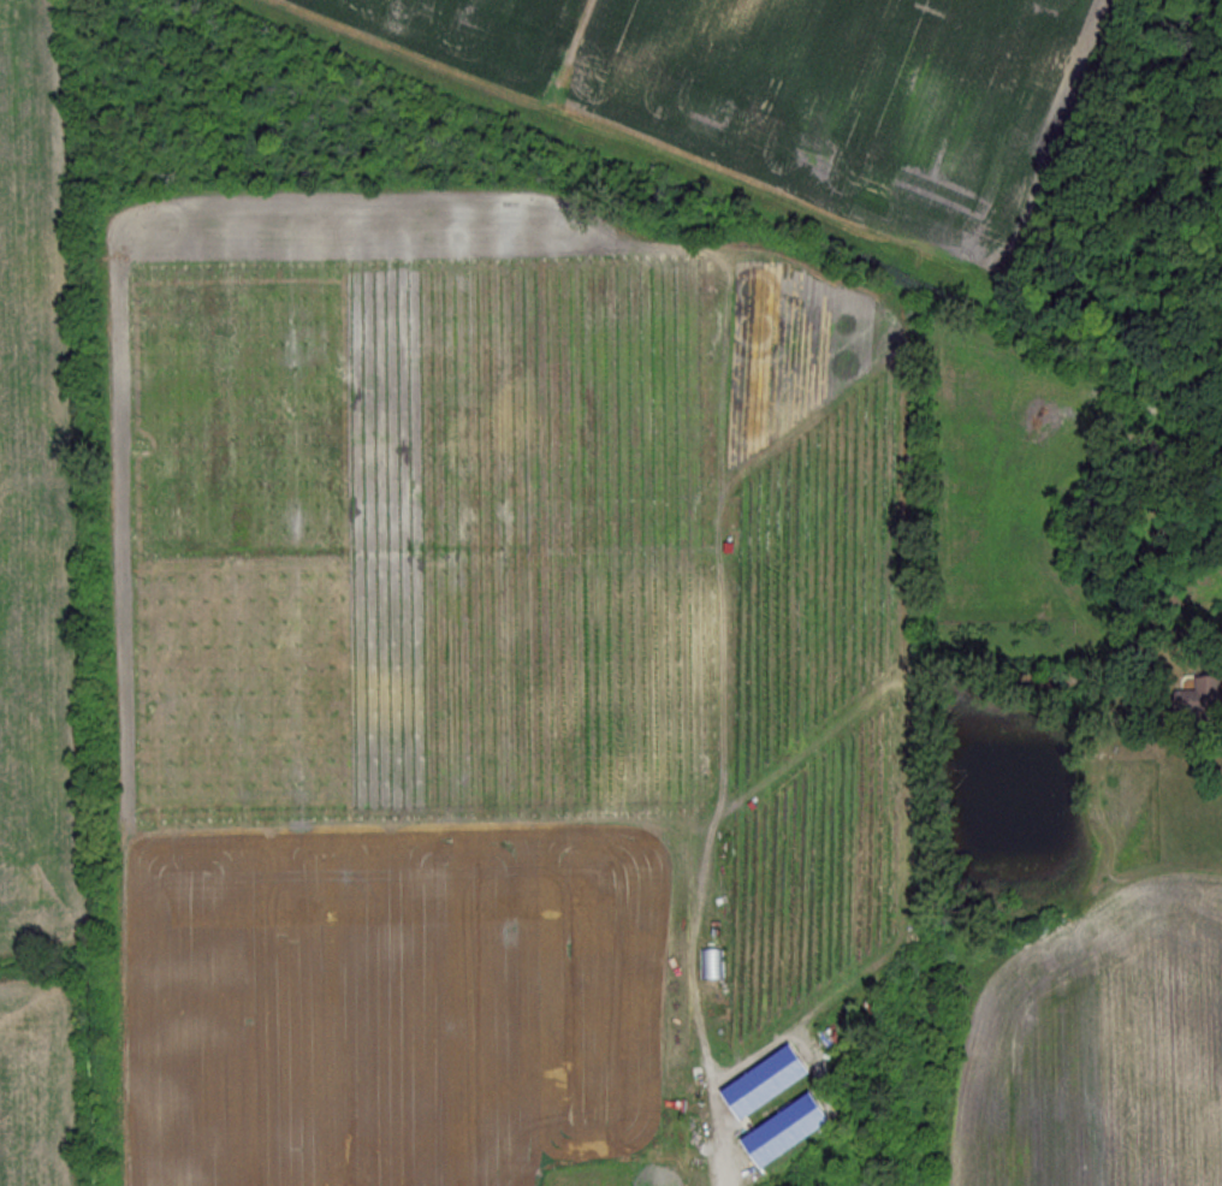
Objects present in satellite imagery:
road: (724, 1167)

